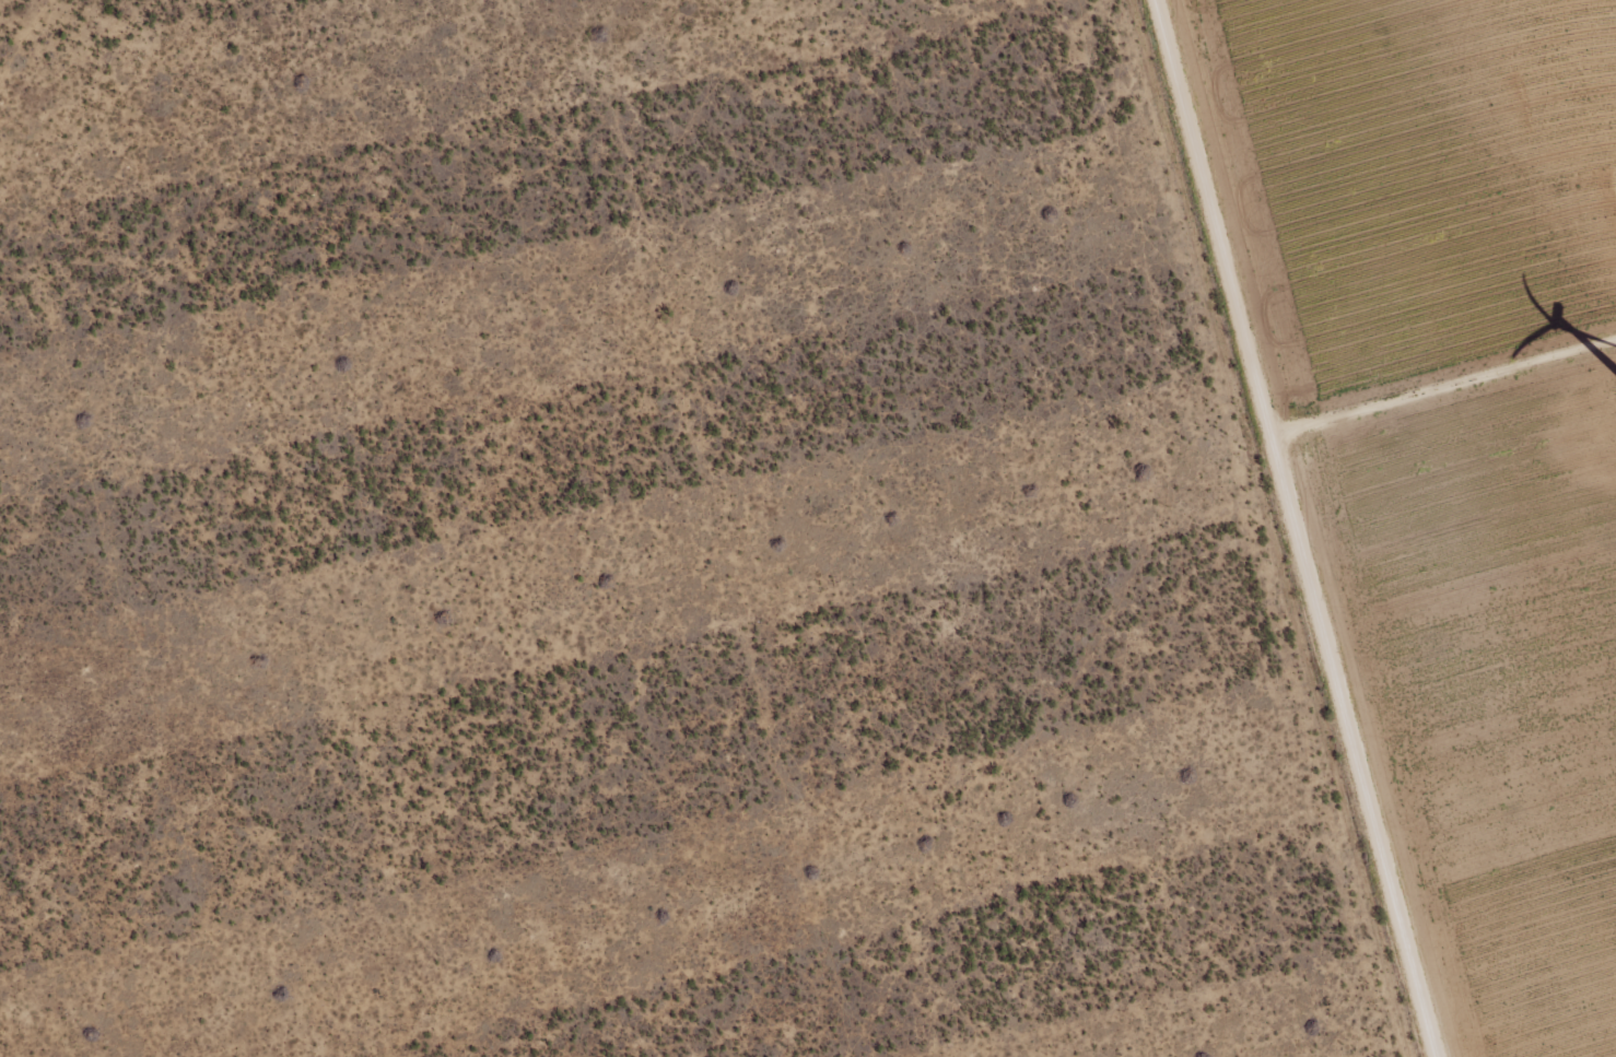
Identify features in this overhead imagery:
road: (1287, 528)

